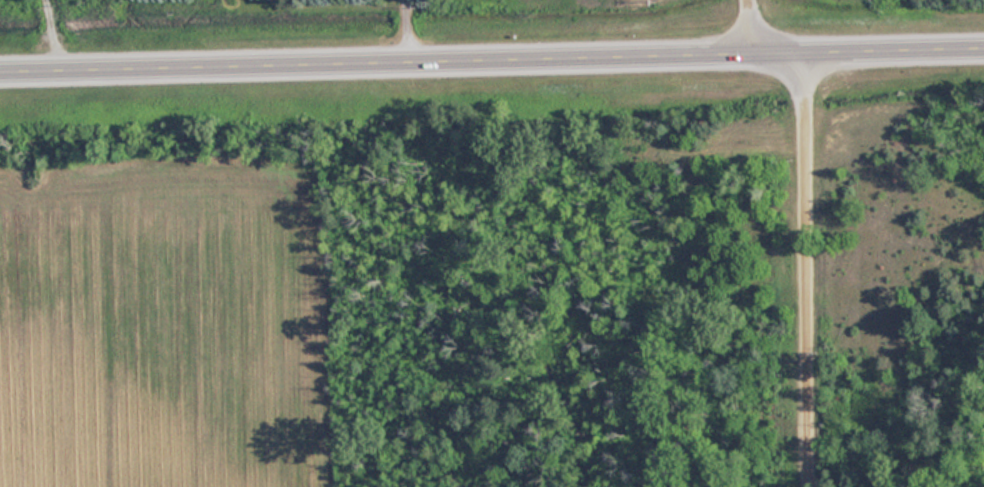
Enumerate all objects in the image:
road: (400, 30)
road: (491, 57)
road: (805, 231)

